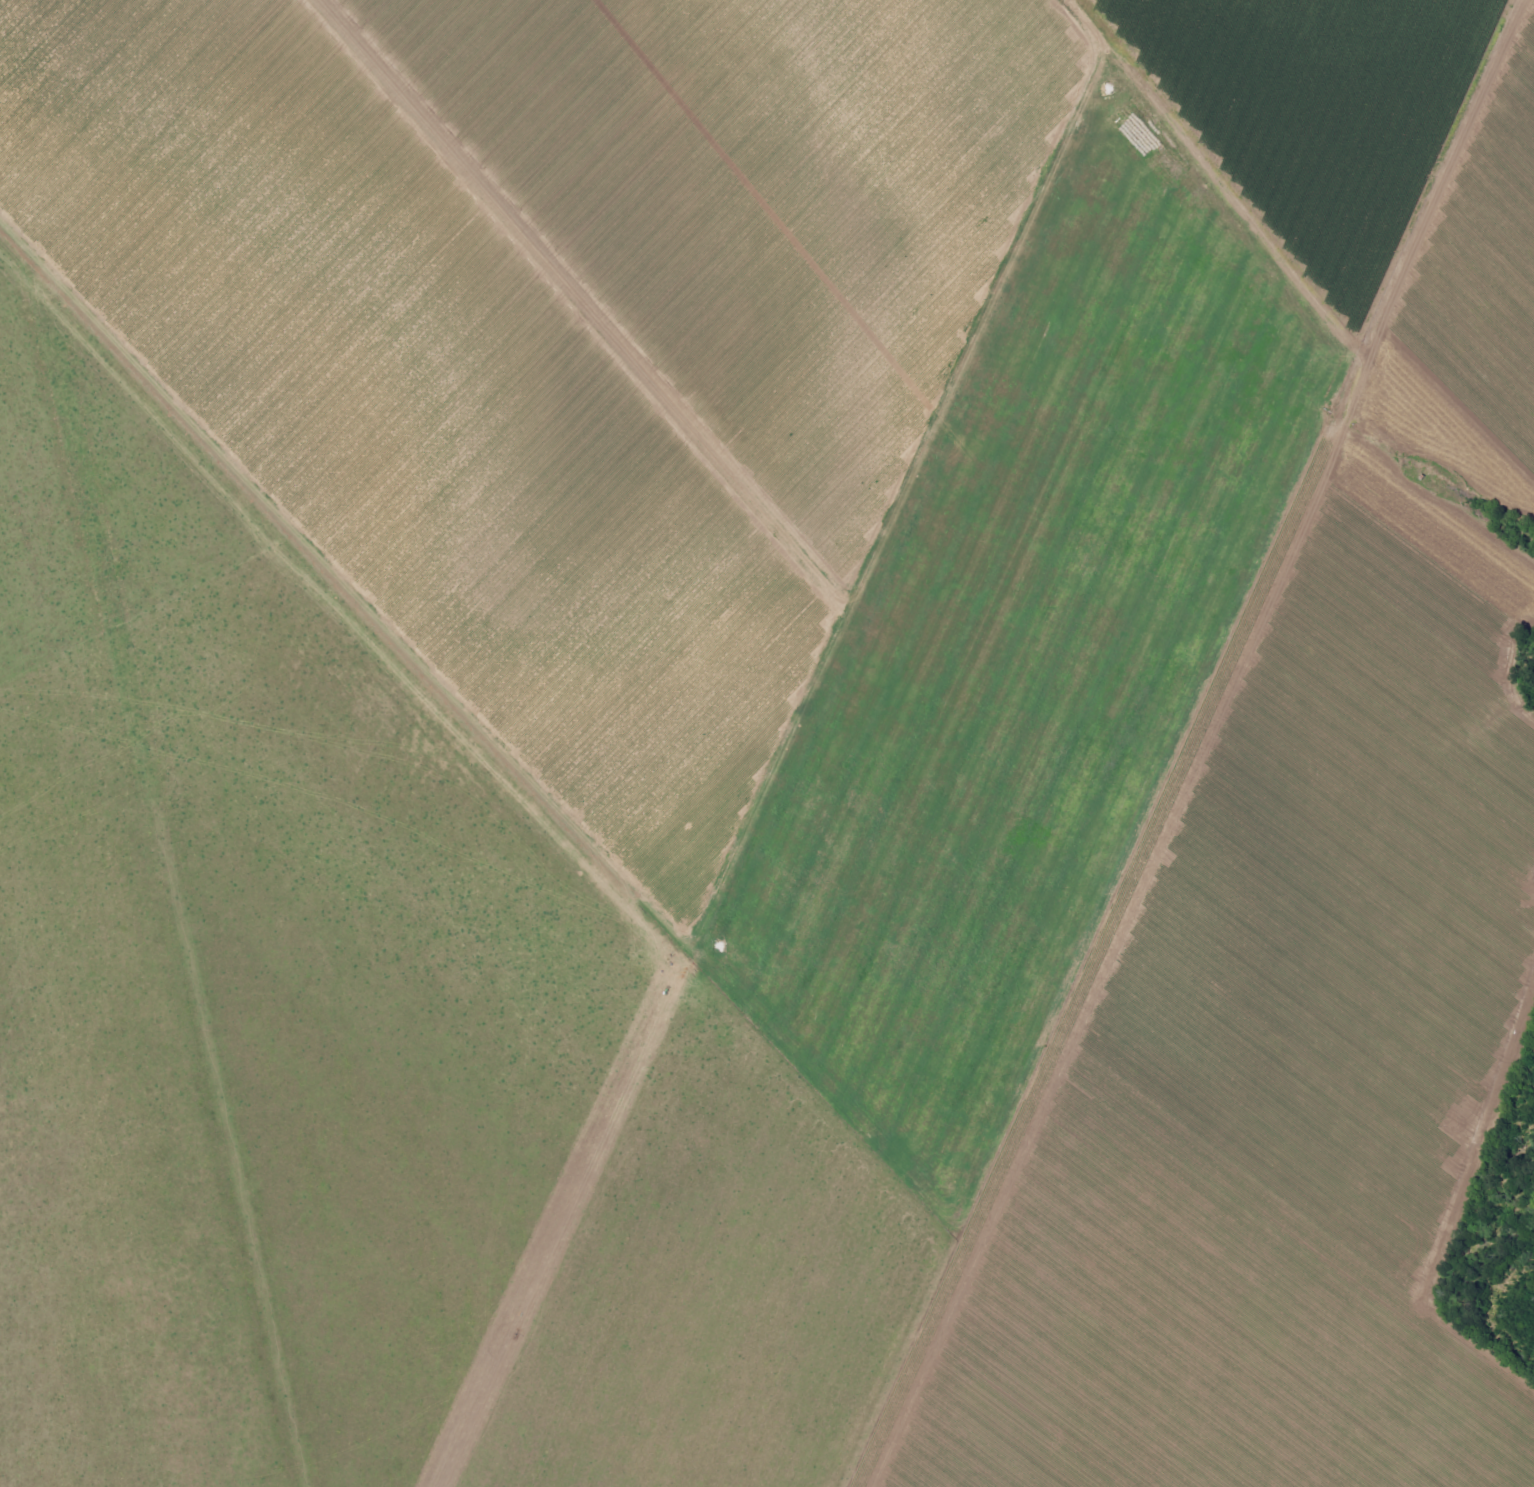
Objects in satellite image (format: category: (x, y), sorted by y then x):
road: (1087, 19)

